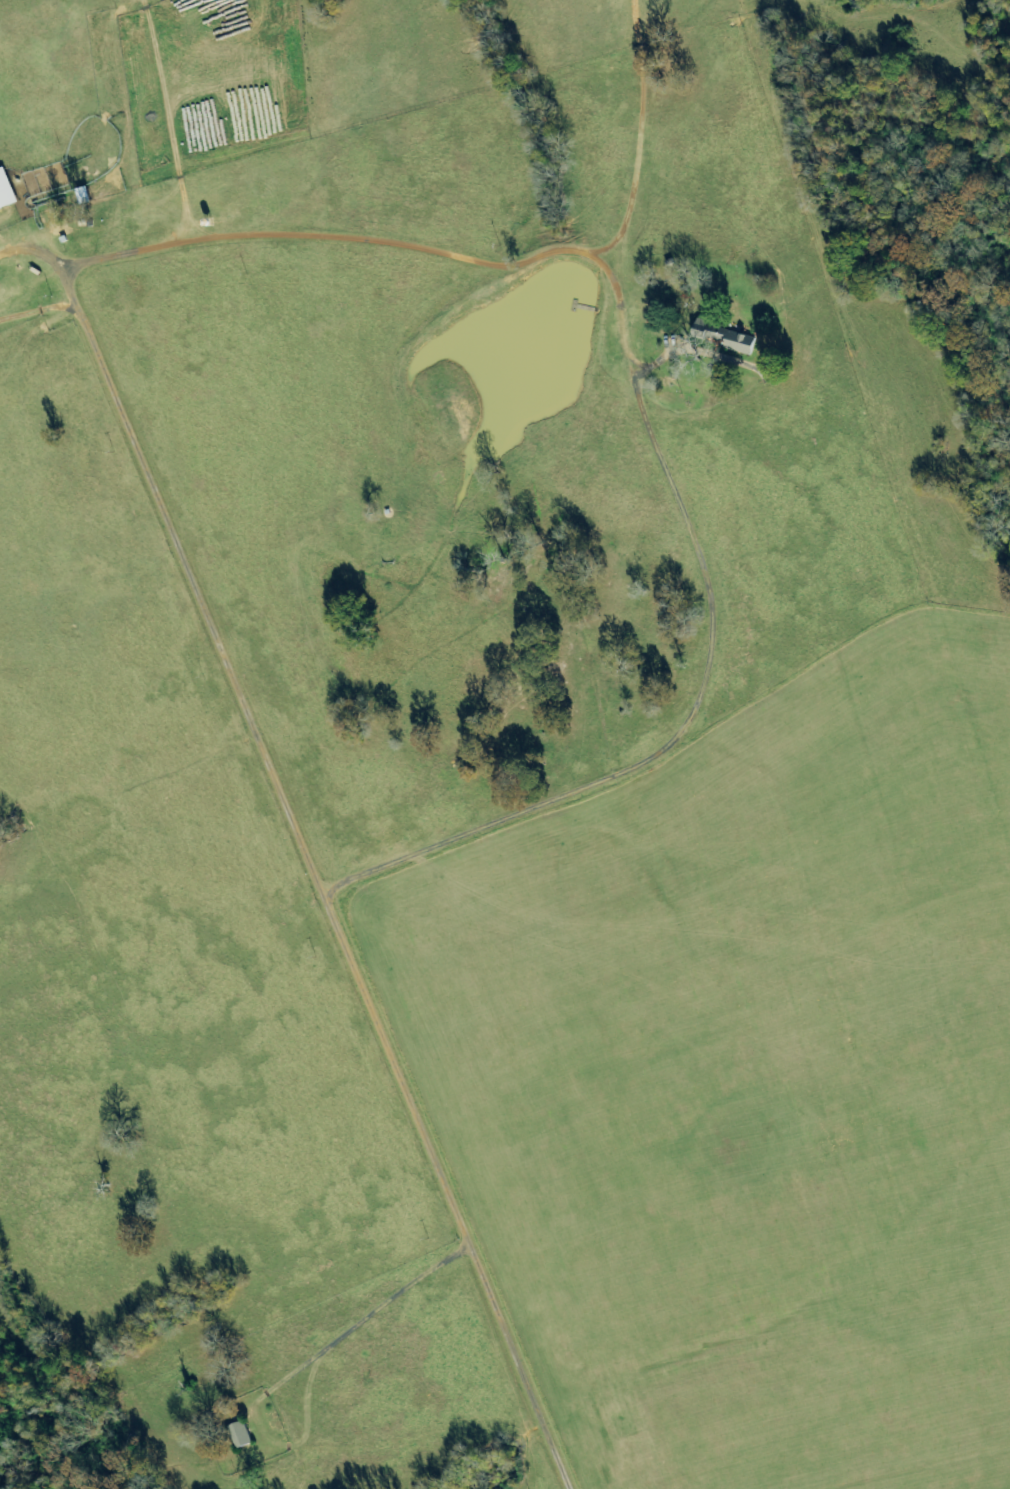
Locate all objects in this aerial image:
building: (7, 190)
building: (85, 195)
building: (736, 341)
road: (293, 865)
building: (242, 1434)

